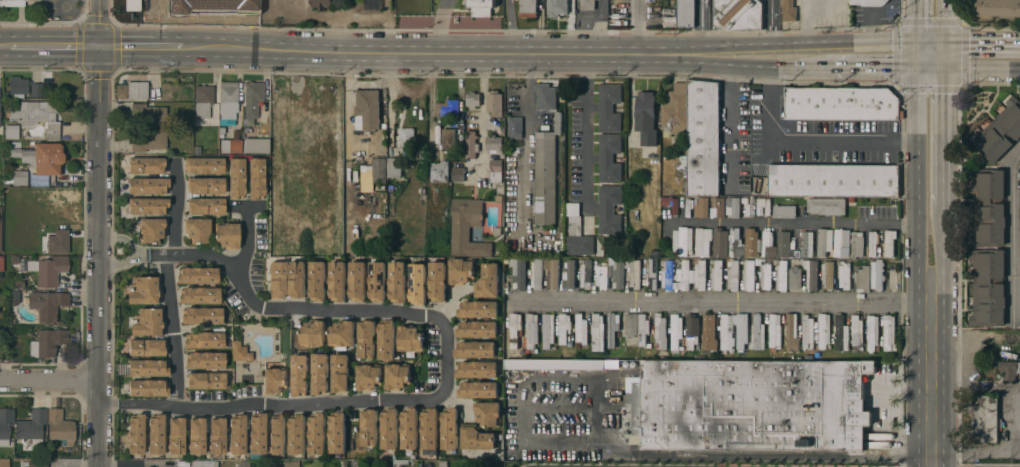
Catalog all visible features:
building: (868, 2)
building: (12, 3)
building: (321, 4)
building: (373, 4)
building: (158, 5)
building: (587, 5)
building: (284, 7)
building: (481, 7)
road: (822, 7)
building: (527, 8)
building: (557, 8)
building: (996, 8)
building: (788, 10)
road: (222, 13)
building: (686, 13)
building: (738, 15)
road: (804, 20)
road: (917, 20)
road: (770, 21)
road: (942, 21)
road: (700, 22)
road: (442, 25)
road: (509, 26)
road: (635, 27)
road: (240, 32)
road: (794, 42)
traffic signals: (917, 42)
road: (929, 42)
traffic signals: (942, 42)
road: (981, 42)
road: (5, 47)
road: (55, 48)
traffic signals: (100, 49)
road: (387, 51)
road: (942, 55)
road: (753, 66)
road: (875, 67)
traffic signals: (917, 68)
traffic signals: (942, 68)
road: (968, 68)
building: (18, 84)
building: (37, 89)
building: (132, 90)
building: (252, 97)
building: (545, 97)
building: (203, 100)
building: (228, 100)
building: (472, 100)
building: (841, 103)
building: (494, 104)
building: (368, 108)
building: (609, 108)
building: (447, 109)
building: (676, 111)
building: (38, 115)
building: (147, 115)
road: (483, 115)
building: (646, 118)
building: (0, 122)
building: (313, 127)
building: (515, 128)
building: (552, 128)
building: (11, 131)
road: (589, 131)
building: (999, 132)
road: (942, 136)
building: (703, 138)
building: (147, 139)
building: (406, 139)
building: (448, 139)
road: (525, 139)
road: (809, 140)
building: (471, 144)
building: (494, 144)
building: (256, 145)
building: (231, 146)
building: (359, 148)
building: (23, 154)
building: (47, 158)
building: (609, 158)
building: (683, 161)
building: (146, 165)
building: (204, 165)
building: (394, 167)
building: (379, 170)
building: (496, 171)
building: (439, 172)
road: (918, 173)
building: (458, 175)
building: (19, 177)
building: (236, 178)
building: (256, 178)
building: (545, 178)
building: (833, 180)
building: (148, 185)
building: (205, 185)
building: (64, 200)
building: (148, 205)
building: (764, 205)
road: (176, 206)
building: (206, 206)
building: (702, 206)
building: (826, 206)
building: (717, 207)
building: (735, 207)
building: (988, 207)
building: (609, 210)
building: (783, 211)
building: (46, 216)
road: (791, 222)
building: (1019, 226)
building: (0, 229)
building: (467, 229)
building: (151, 230)
building: (198, 230)
building: (496, 232)
road: (101, 233)
building: (577, 233)
building: (227, 234)
road: (942, 235)
road: (247, 236)
road: (1013, 237)
building: (702, 241)
building: (56, 242)
building: (682, 242)
building: (825, 242)
building: (719, 243)
building: (734, 243)
building: (750, 243)
building: (767, 243)
building: (784, 243)
building: (873, 243)
building: (889, 243)
building: (806, 244)
building: (840, 244)
building: (857, 246)
road: (134, 251)
road: (186, 253)
building: (1, 263)
building: (49, 269)
building: (462, 270)
building: (518, 273)
building: (634, 273)
building: (536, 274)
building: (553, 274)
building: (586, 274)
building: (618, 274)
building: (700, 274)
building: (811, 274)
building: (197, 275)
building: (652, 275)
building: (683, 275)
building: (716, 275)
building: (733, 275)
building: (749, 275)
building: (827, 275)
building: (877, 275)
building: (569, 276)
building: (602, 276)
building: (668, 276)
building: (781, 276)
building: (844, 276)
building: (765, 277)
building: (794, 277)
road: (1016, 278)
building: (277, 279)
building: (298, 279)
building: (862, 279)
building: (318, 281)
building: (338, 281)
building: (358, 281)
building: (378, 281)
building: (438, 281)
building: (398, 282)
building: (488, 282)
building: (418, 284)
road: (937, 284)
building: (988, 288)
building: (144, 290)
building: (199, 295)
road: (726, 303)
building: (47, 304)
building: (478, 309)
building: (201, 315)
building: (147, 322)
building: (631, 325)
building: (660, 326)
building: (564, 328)
building: (613, 328)
road: (171, 329)
building: (477, 329)
building: (515, 329)
building: (581, 329)
building: (643, 329)
building: (532, 331)
building: (548, 331)
building: (676, 331)
building: (692, 331)
building: (742, 331)
building: (807, 331)
building: (824, 331)
building: (856, 331)
building: (597, 332)
building: (709, 332)
building: (774, 332)
building: (727, 333)
building: (758, 333)
building: (791, 333)
building: (840, 333)
building: (872, 333)
building: (889, 333)
building: (313, 334)
building: (342, 334)
building: (367, 339)
building: (411, 339)
building: (204, 340)
building: (387, 340)
building: (48, 342)
building: (146, 347)
building: (475, 349)
building: (239, 351)
building: (205, 360)
building: (554, 364)
building: (148, 367)
building: (477, 370)
building: (1009, 370)
building: (340, 373)
building: (320, 374)
building: (300, 375)
building: (398, 376)
building: (369, 377)
road: (51, 380)
building: (206, 380)
building: (275, 380)
road: (933, 384)
building: (147, 387)
building: (479, 390)
road: (424, 401)
building: (750, 404)
building: (488, 413)
building: (985, 418)
building: (5, 425)
building: (32, 426)
building: (60, 426)
building: (370, 427)
building: (509, 427)
building: (390, 428)
building: (409, 428)
building: (430, 428)
building: (450, 429)
building: (337, 432)
building: (136, 433)
building: (317, 433)
building: (156, 434)
building: (237, 434)
building: (257, 434)
building: (277, 434)
building: (297, 434)
building: (176, 435)
building: (196, 435)
building: (217, 435)
building: (477, 438)
road: (735, 454)
building: (4, 462)
road: (136, 462)
building: (37, 463)
building: (204, 463)

